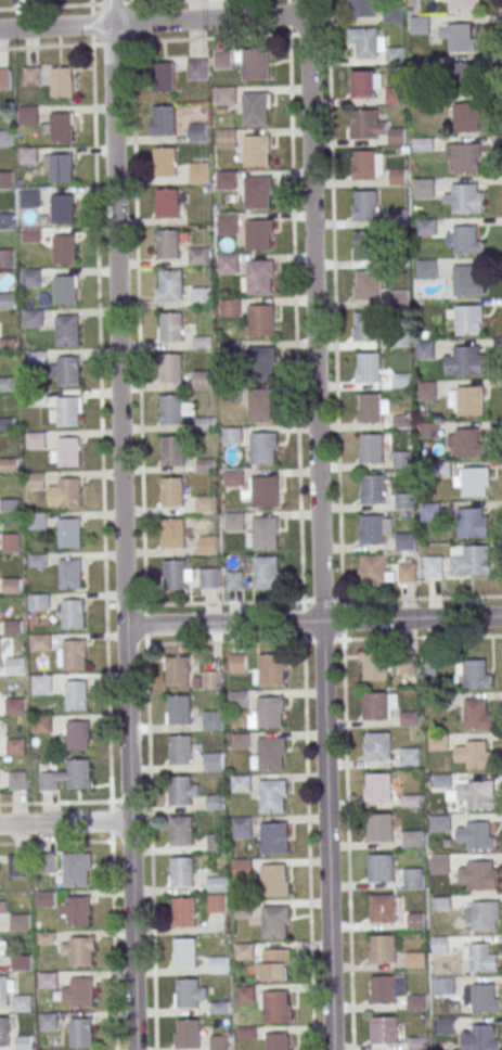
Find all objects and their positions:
road: (129, 1)
road: (90, 2)
building: (461, 5)
building: (361, 8)
road: (289, 16)
building: (392, 16)
road: (154, 21)
road: (91, 24)
building: (420, 25)
building: (460, 36)
road: (191, 39)
building: (366, 42)
road: (501, 44)
building: (396, 54)
building: (222, 59)
building: (256, 63)
building: (196, 69)
building: (31, 76)
building: (160, 76)
building: (464, 76)
building: (4, 78)
building: (61, 81)
building: (366, 84)
building: (396, 94)
building: (224, 95)
building: (255, 107)
building: (27, 115)
building: (467, 117)
building: (163, 120)
building: (364, 124)
building: (61, 127)
building: (196, 132)
building: (396, 136)
building: (5, 138)
building: (226, 138)
building: (424, 144)
building: (256, 151)
building: (464, 156)
building: (164, 161)
building: (365, 165)
building: (60, 168)
building: (198, 172)
building: (398, 177)
building: (5, 179)
building: (226, 180)
building: (424, 188)
building: (257, 192)
building: (29, 199)
building: (465, 199)
building: (166, 203)
building: (366, 205)
building: (61, 208)
building: (5, 220)
building: (226, 222)
building: (427, 227)
building: (257, 234)
building: (465, 239)
building: (168, 244)
building: (366, 245)
building: (64, 249)
building: (198, 256)
building: (7, 258)
building: (228, 264)
building: (427, 269)
building: (259, 277)
building: (31, 278)
building: (465, 279)
building: (170, 285)
building: (369, 285)
building: (65, 290)
building: (201, 297)
building: (8, 300)
building: (230, 307)
building: (33, 318)
road: (335, 319)
building: (261, 320)
building: (469, 320)
building: (171, 326)
building: (366, 326)
building: (67, 330)
building: (426, 349)
road: (296, 357)
building: (262, 361)
building: (465, 361)
building: (369, 367)
building: (170, 368)
building: (68, 371)
building: (202, 380)
building: (403, 380)
building: (5, 383)
building: (428, 389)
building: (467, 400)
building: (261, 405)
building: (371, 408)
building: (171, 409)
building: (67, 411)
building: (403, 421)
building: (429, 430)
building: (233, 434)
building: (35, 439)
building: (468, 444)
building: (263, 448)
building: (372, 448)
building: (172, 450)
building: (68, 451)
building: (404, 459)
building: (9, 464)
road: (102, 477)
building: (233, 477)
building: (36, 481)
building: (475, 482)
building: (373, 488)
building: (266, 490)
building: (172, 491)
building: (69, 492)
building: (404, 500)
building: (205, 503)
building: (10, 504)
road: (141, 505)
building: (432, 511)
building: (37, 521)
building: (234, 521)
building: (469, 522)
road: (321, 524)
road: (121, 525)
building: (373, 529)
building: (69, 533)
building: (172, 533)
building: (266, 533)
building: (406, 541)
building: (11, 542)
building: (208, 545)
building: (36, 560)
building: (472, 560)
building: (434, 566)
building: (374, 569)
building: (267, 572)
building: (70, 573)
building: (408, 573)
building: (175, 574)
building: (209, 578)
building: (234, 579)
road: (401, 597)
building: (38, 602)
building: (73, 614)
road: (413, 617)
road: (223, 623)
building: (14, 626)
building: (40, 642)
building: (74, 654)
building: (0, 657)
building: (239, 663)
building: (409, 664)
building: (14, 665)
building: (376, 665)
building: (269, 669)
building: (177, 671)
building: (474, 674)
building: (213, 679)
building: (41, 683)
building: (76, 695)
building: (239, 699)
building: (439, 702)
building: (15, 705)
building: (376, 705)
building: (178, 709)
building: (267, 713)
building: (475, 714)
building: (213, 719)
building: (42, 724)
building: (77, 735)
building: (240, 741)
building: (439, 742)
building: (378, 745)
building: (15, 746)
building: (179, 750)
building: (270, 753)
building: (473, 754)
building: (411, 757)
building: (213, 760)
road: (346, 765)
building: (78, 773)
building: (16, 780)
building: (241, 783)
building: (378, 786)
building: (179, 791)
building: (476, 793)
building: (272, 795)
building: (215, 802)
road: (64, 822)
building: (440, 823)
building: (241, 827)
building: (379, 827)
building: (181, 830)
building: (476, 834)
building: (273, 836)
building: (412, 838)
building: (216, 842)
road: (308, 845)
building: (440, 865)
building: (17, 866)
building: (77, 868)
building: (243, 868)
building: (379, 868)
building: (181, 871)
building: (477, 874)
building: (413, 878)
building: (273, 880)
building: (216, 894)
building: (46, 898)
building: (2, 905)
building: (383, 908)
building: (78, 910)
building: (183, 911)
building: (486, 915)
building: (20, 922)
building: (275, 922)
road: (113, 924)
building: (46, 937)
building: (440, 944)
building: (383, 949)
building: (2, 950)
building: (80, 951)
building: (244, 951)
building: (185, 952)
building: (479, 958)
building: (415, 960)
building: (21, 962)
building: (218, 964)
building: (274, 964)
building: (48, 979)
building: (445, 986)
building: (383, 989)
building: (3, 990)
building: (82, 991)
building: (188, 994)
building: (245, 994)
building: (486, 998)
building: (417, 1001)
building: (275, 1006)
building: (49, 1021)
building: (446, 1025)
building: (384, 1029)
building: (4, 1030)
building: (81, 1033)
building: (189, 1034)
building: (481, 1037)
building: (220, 1041)
building: (278, 1041)
building: (24, 1042)

